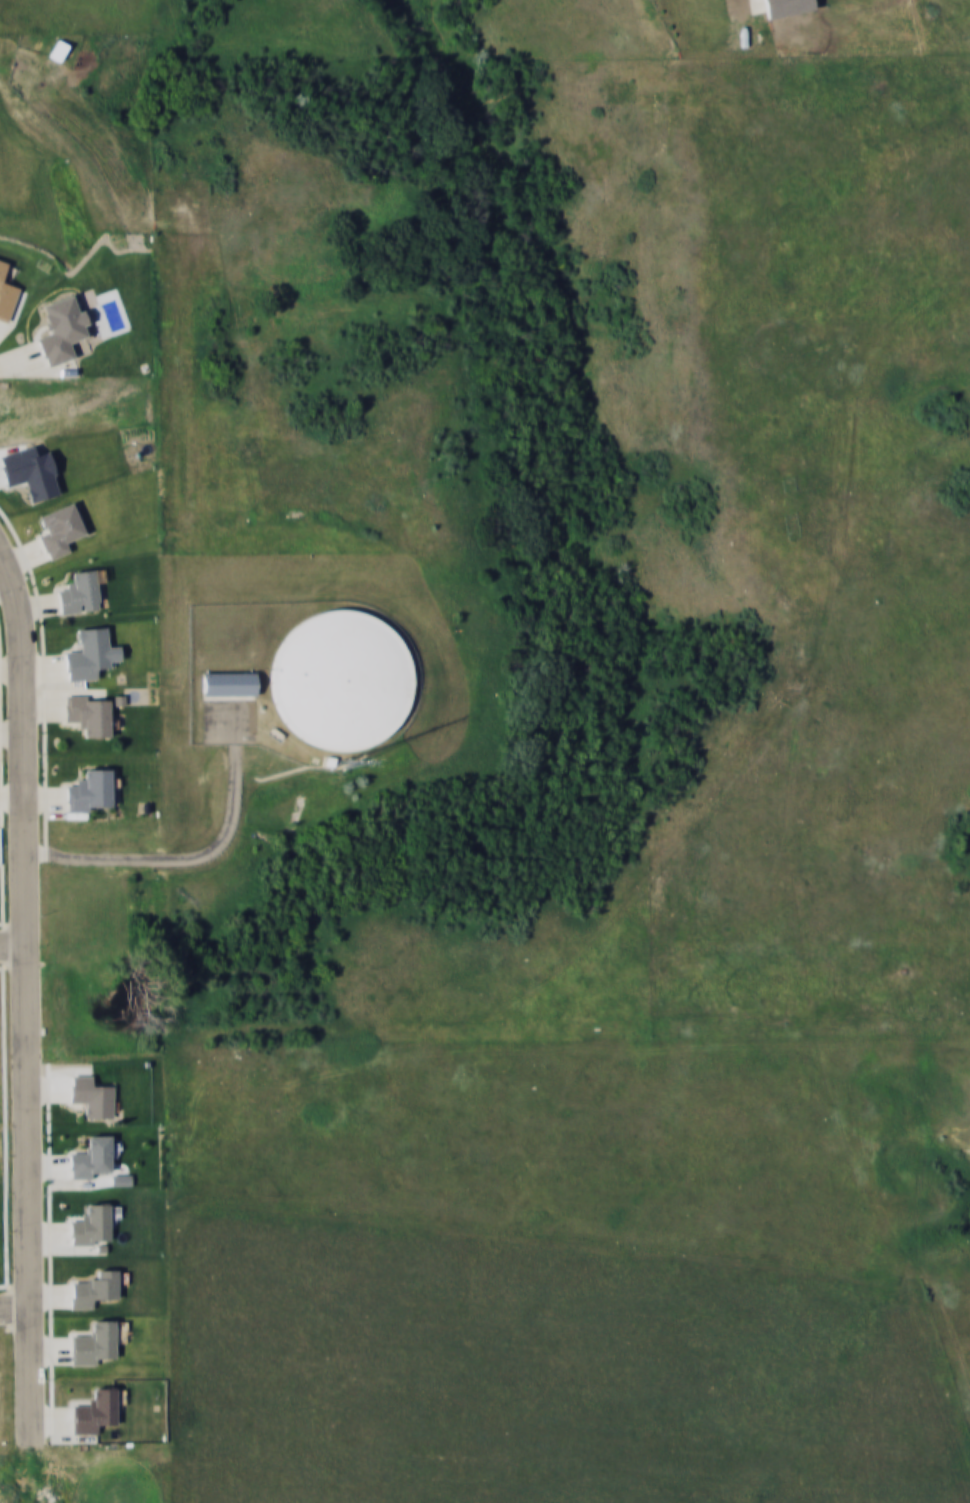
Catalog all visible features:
building: (786, 6)
building: (57, 49)
building: (6, 294)
building: (61, 328)
building: (58, 529)
building: (78, 592)
building: (90, 653)
building: (339, 678)
building: (228, 682)
road: (26, 693)
building: (86, 713)
building: (89, 790)
road: (12, 942)
road: (27, 1137)
road: (15, 1305)
building: (95, 1343)

